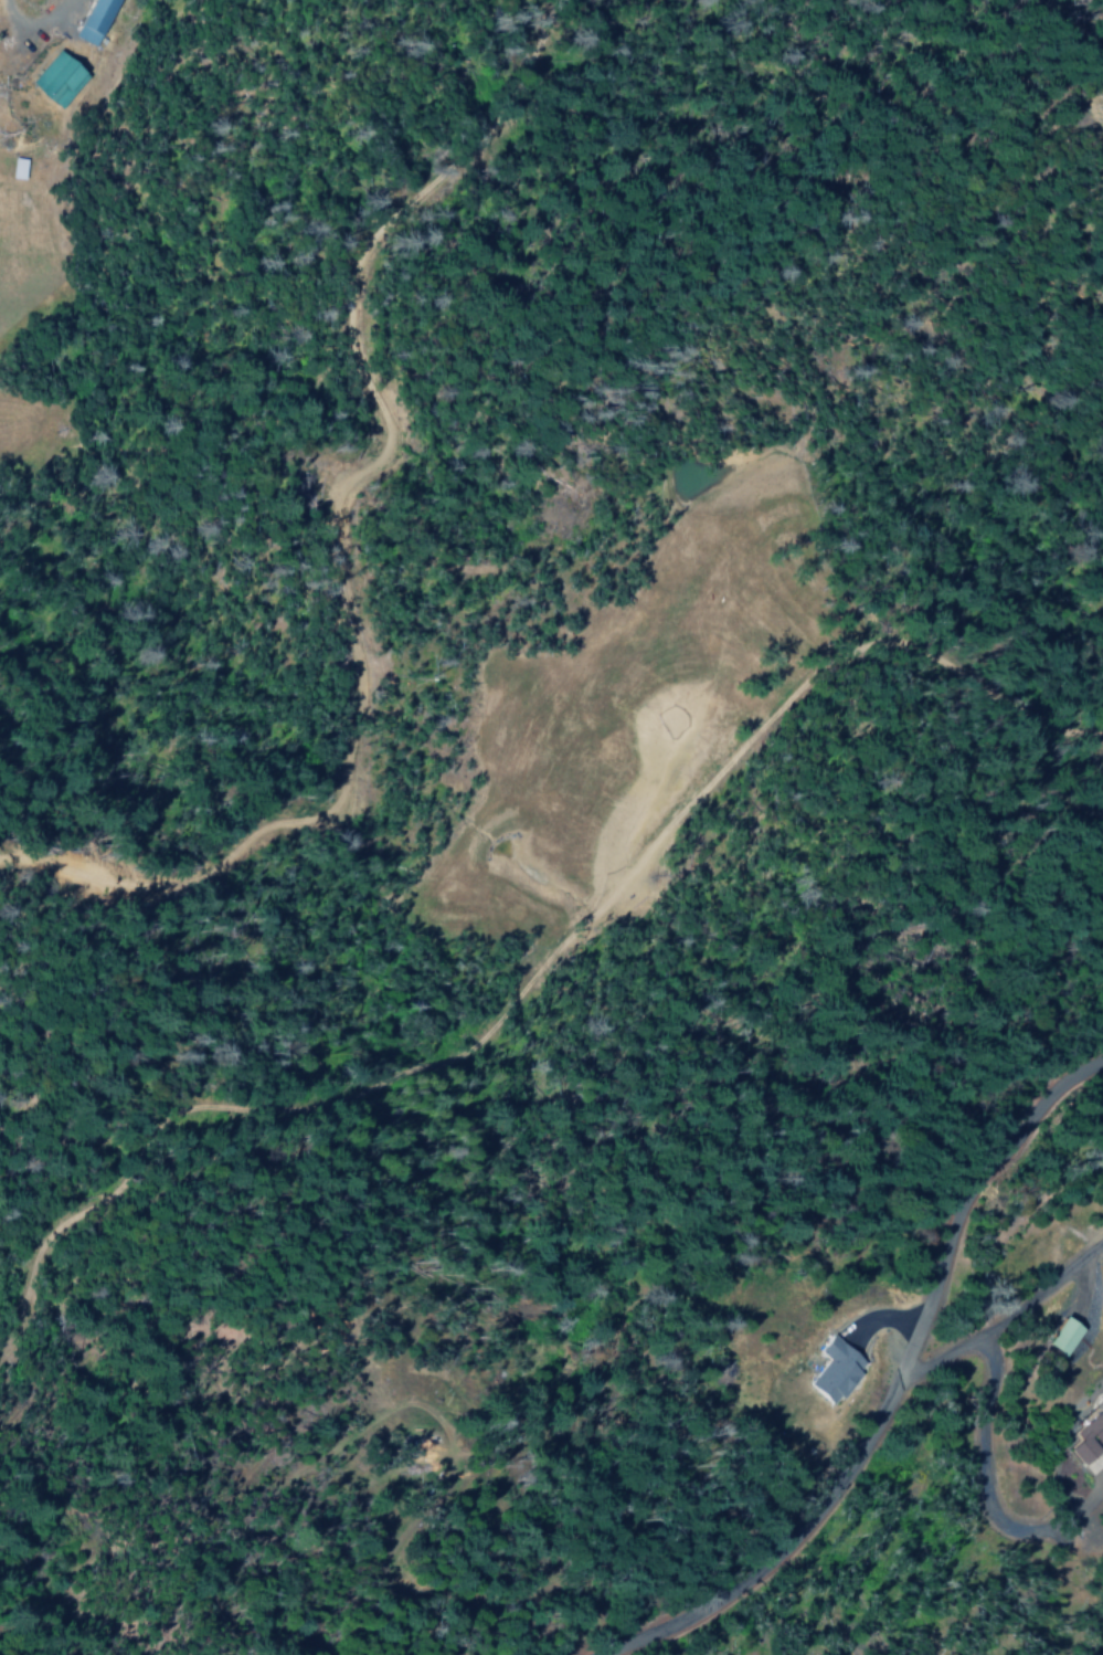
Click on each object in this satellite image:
building: (93, 20)
building: (55, 77)
road: (997, 1159)
road: (1005, 1316)
building: (1065, 1336)
building: (836, 1370)
road: (1082, 1393)
building: (1093, 1442)
road: (810, 1512)
road: (1097, 1647)

